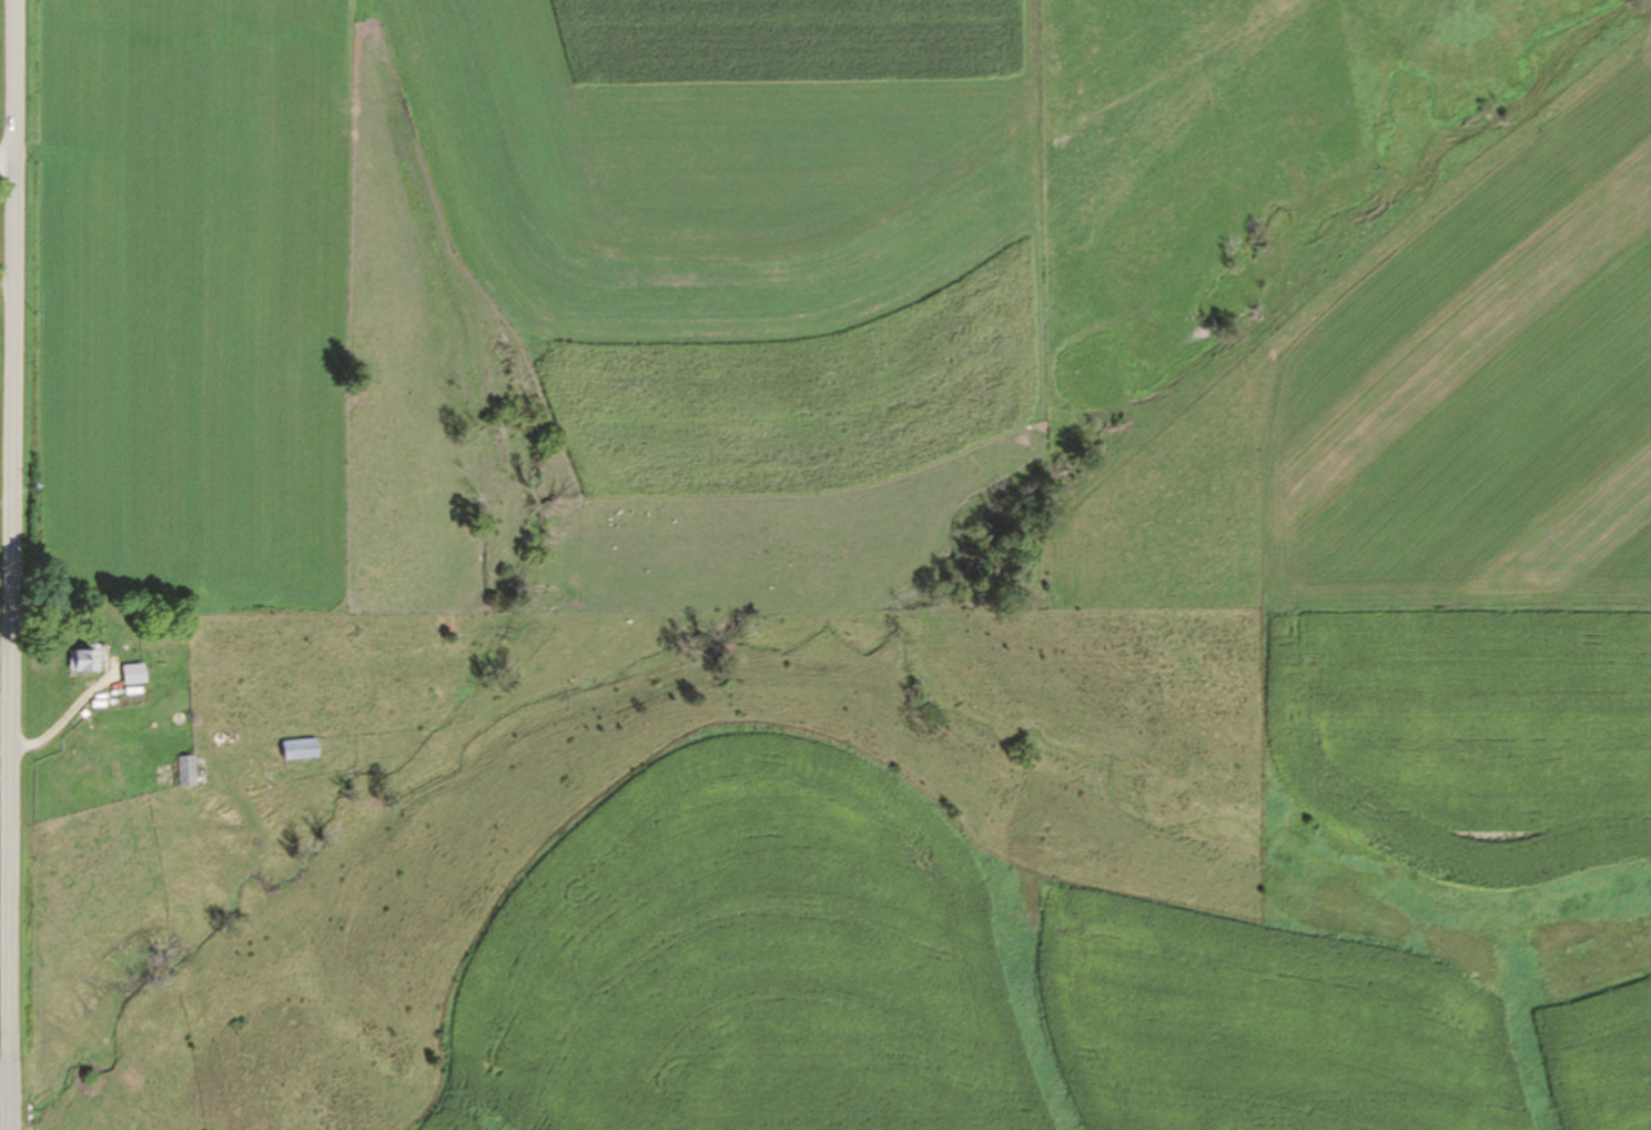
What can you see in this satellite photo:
road: (14, 565)
building: (82, 660)
building: (125, 675)
building: (295, 750)
building: (183, 771)

